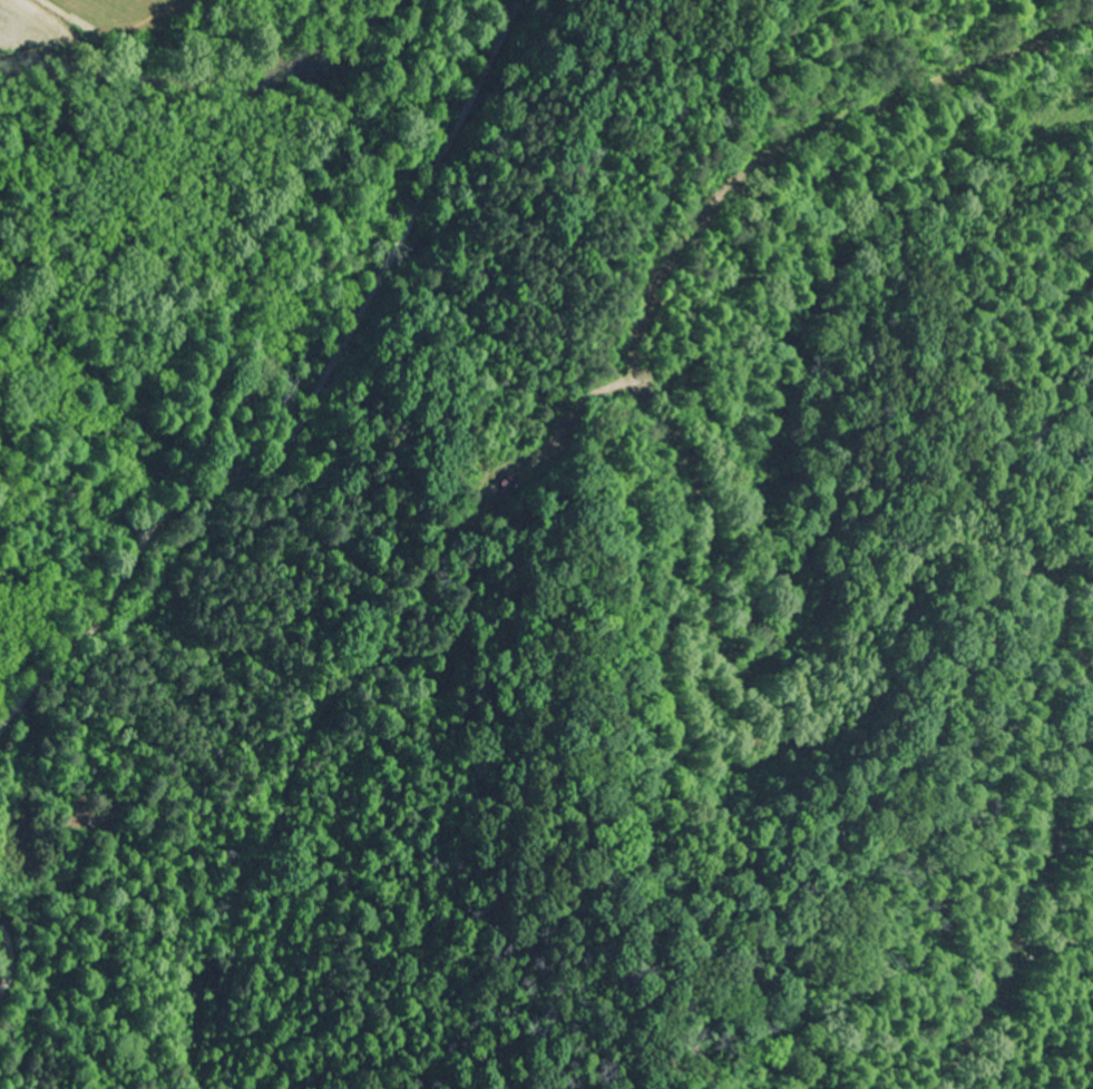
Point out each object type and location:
river: (211, 76)
road: (311, 409)
road: (4, 960)

